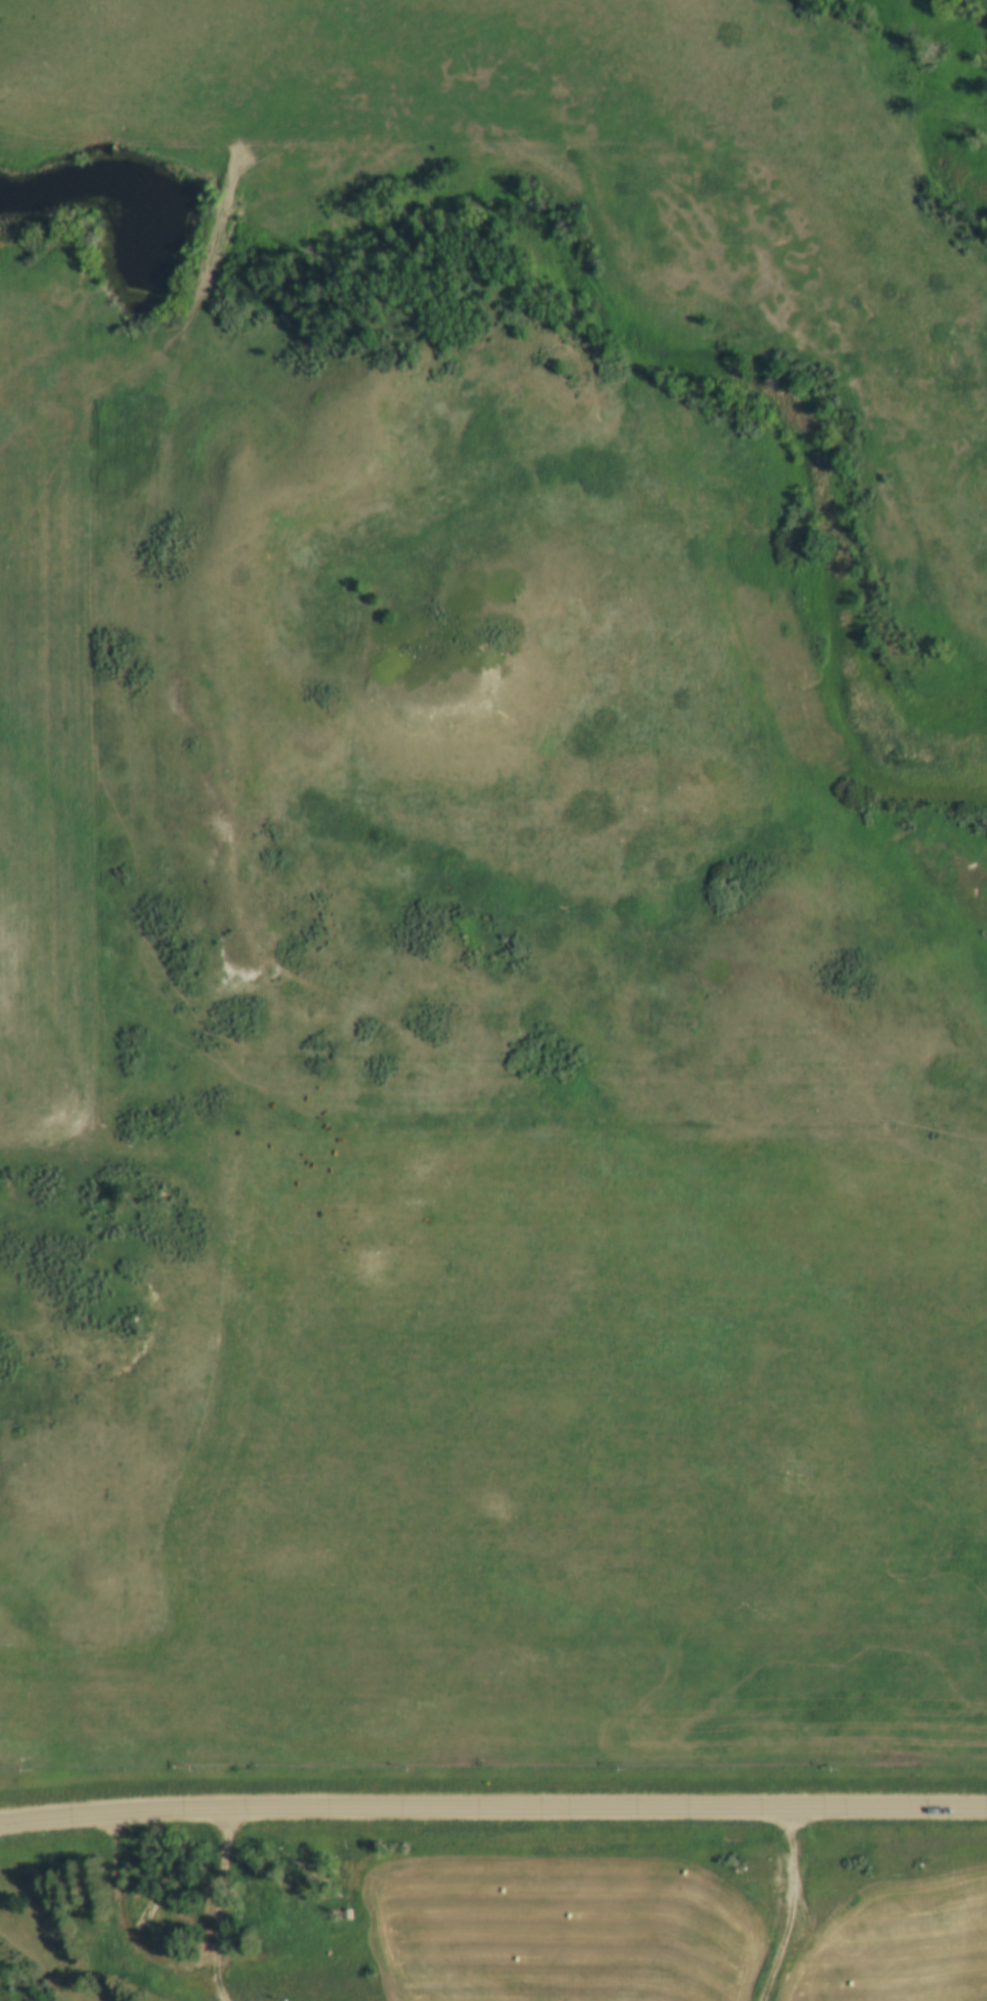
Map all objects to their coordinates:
road: (493, 1811)
building: (188, 1884)
building: (243, 1905)
building: (185, 1920)
road: (176, 1968)

